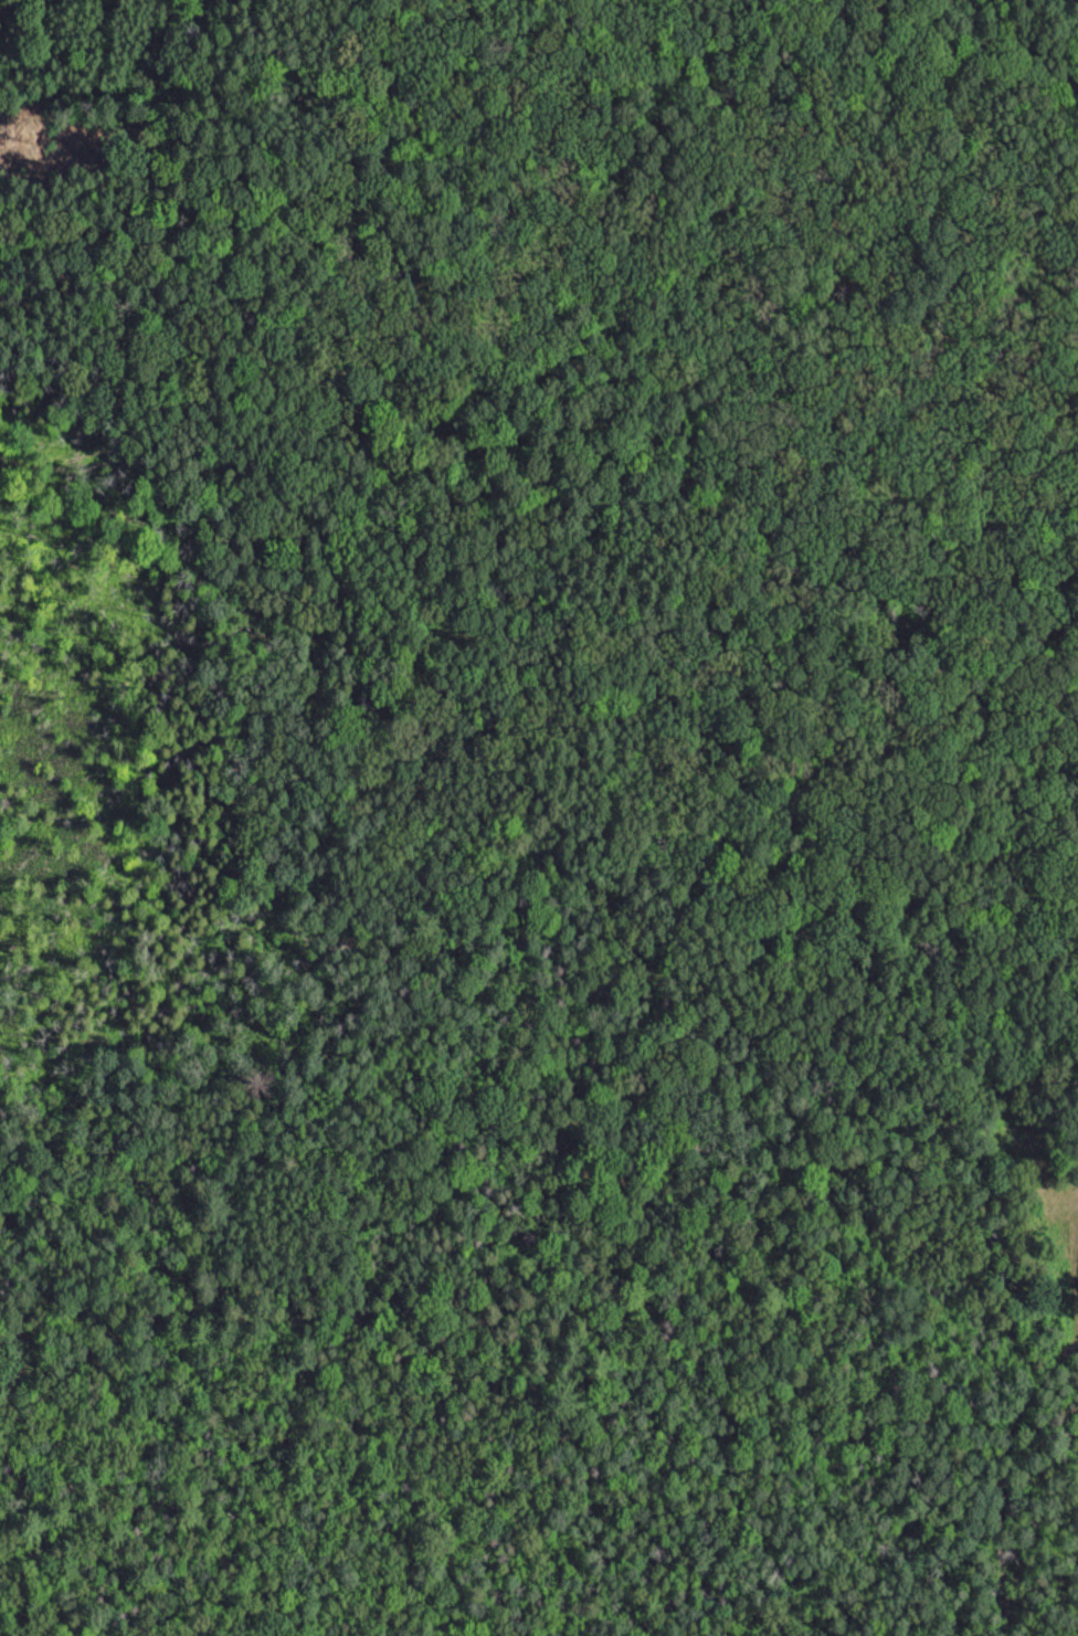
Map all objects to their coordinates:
road: (1057, 34)
road: (505, 728)
road: (1006, 1482)

